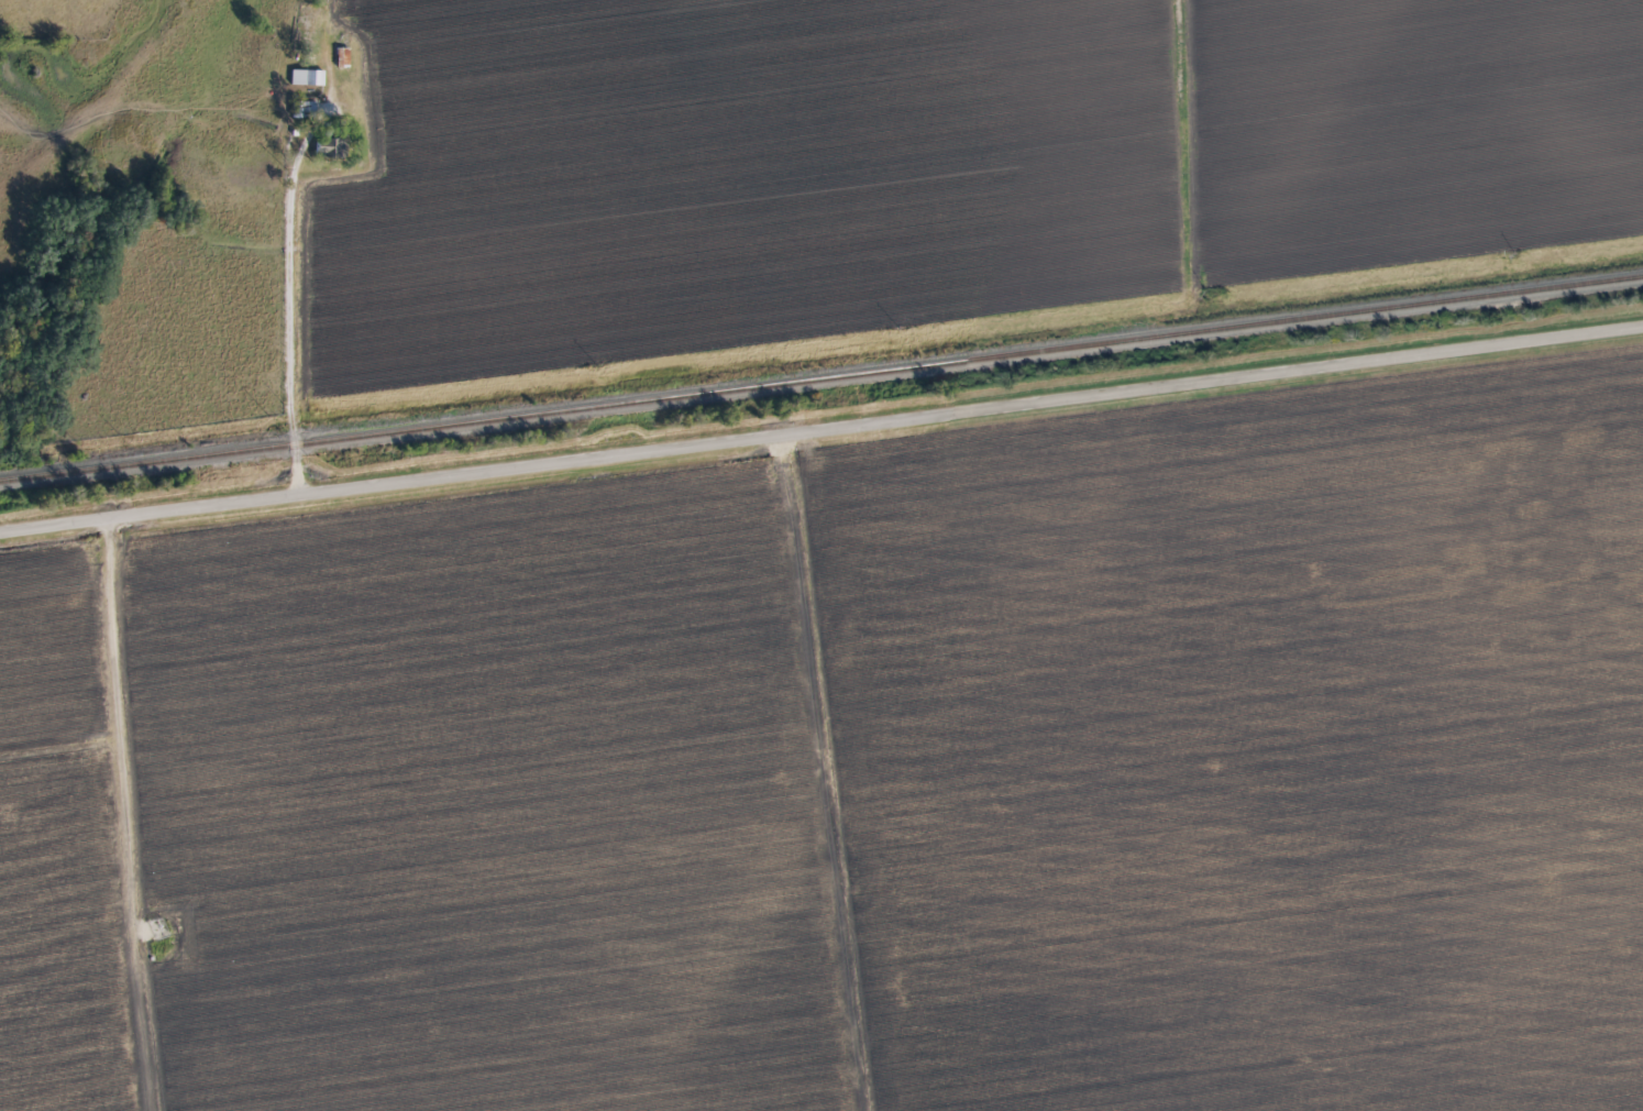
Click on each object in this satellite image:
road: (291, 317)
railway: (821, 378)
road: (821, 424)

